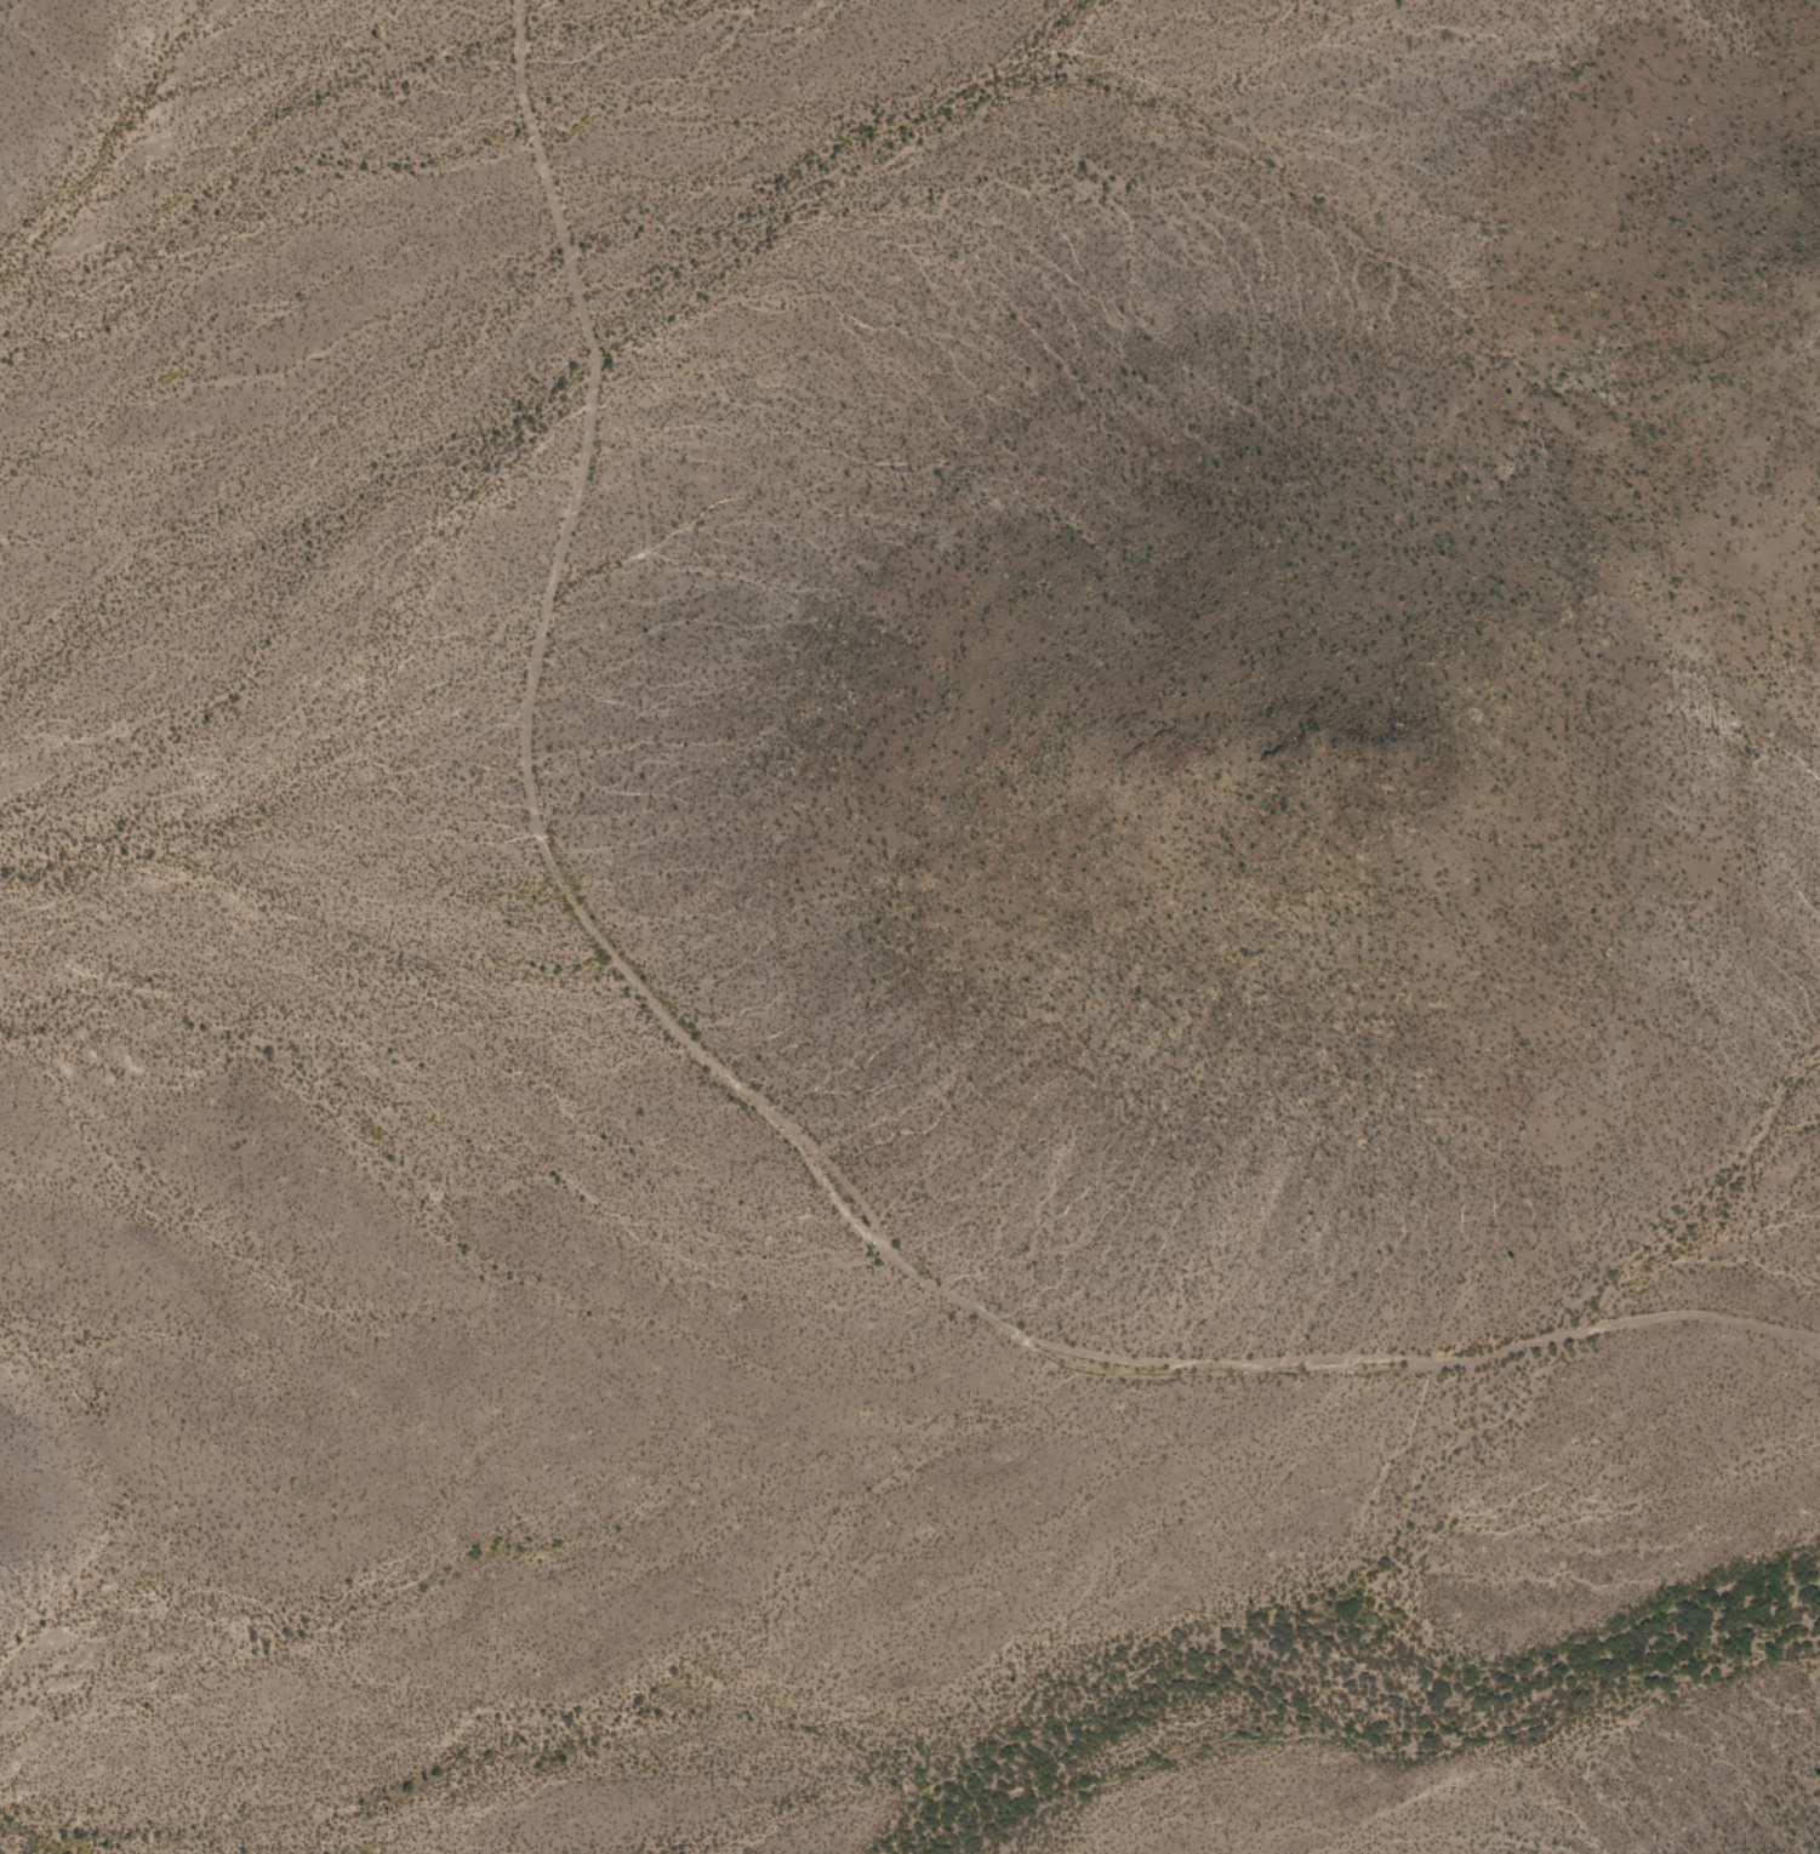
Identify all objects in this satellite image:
road: (728, 1112)

